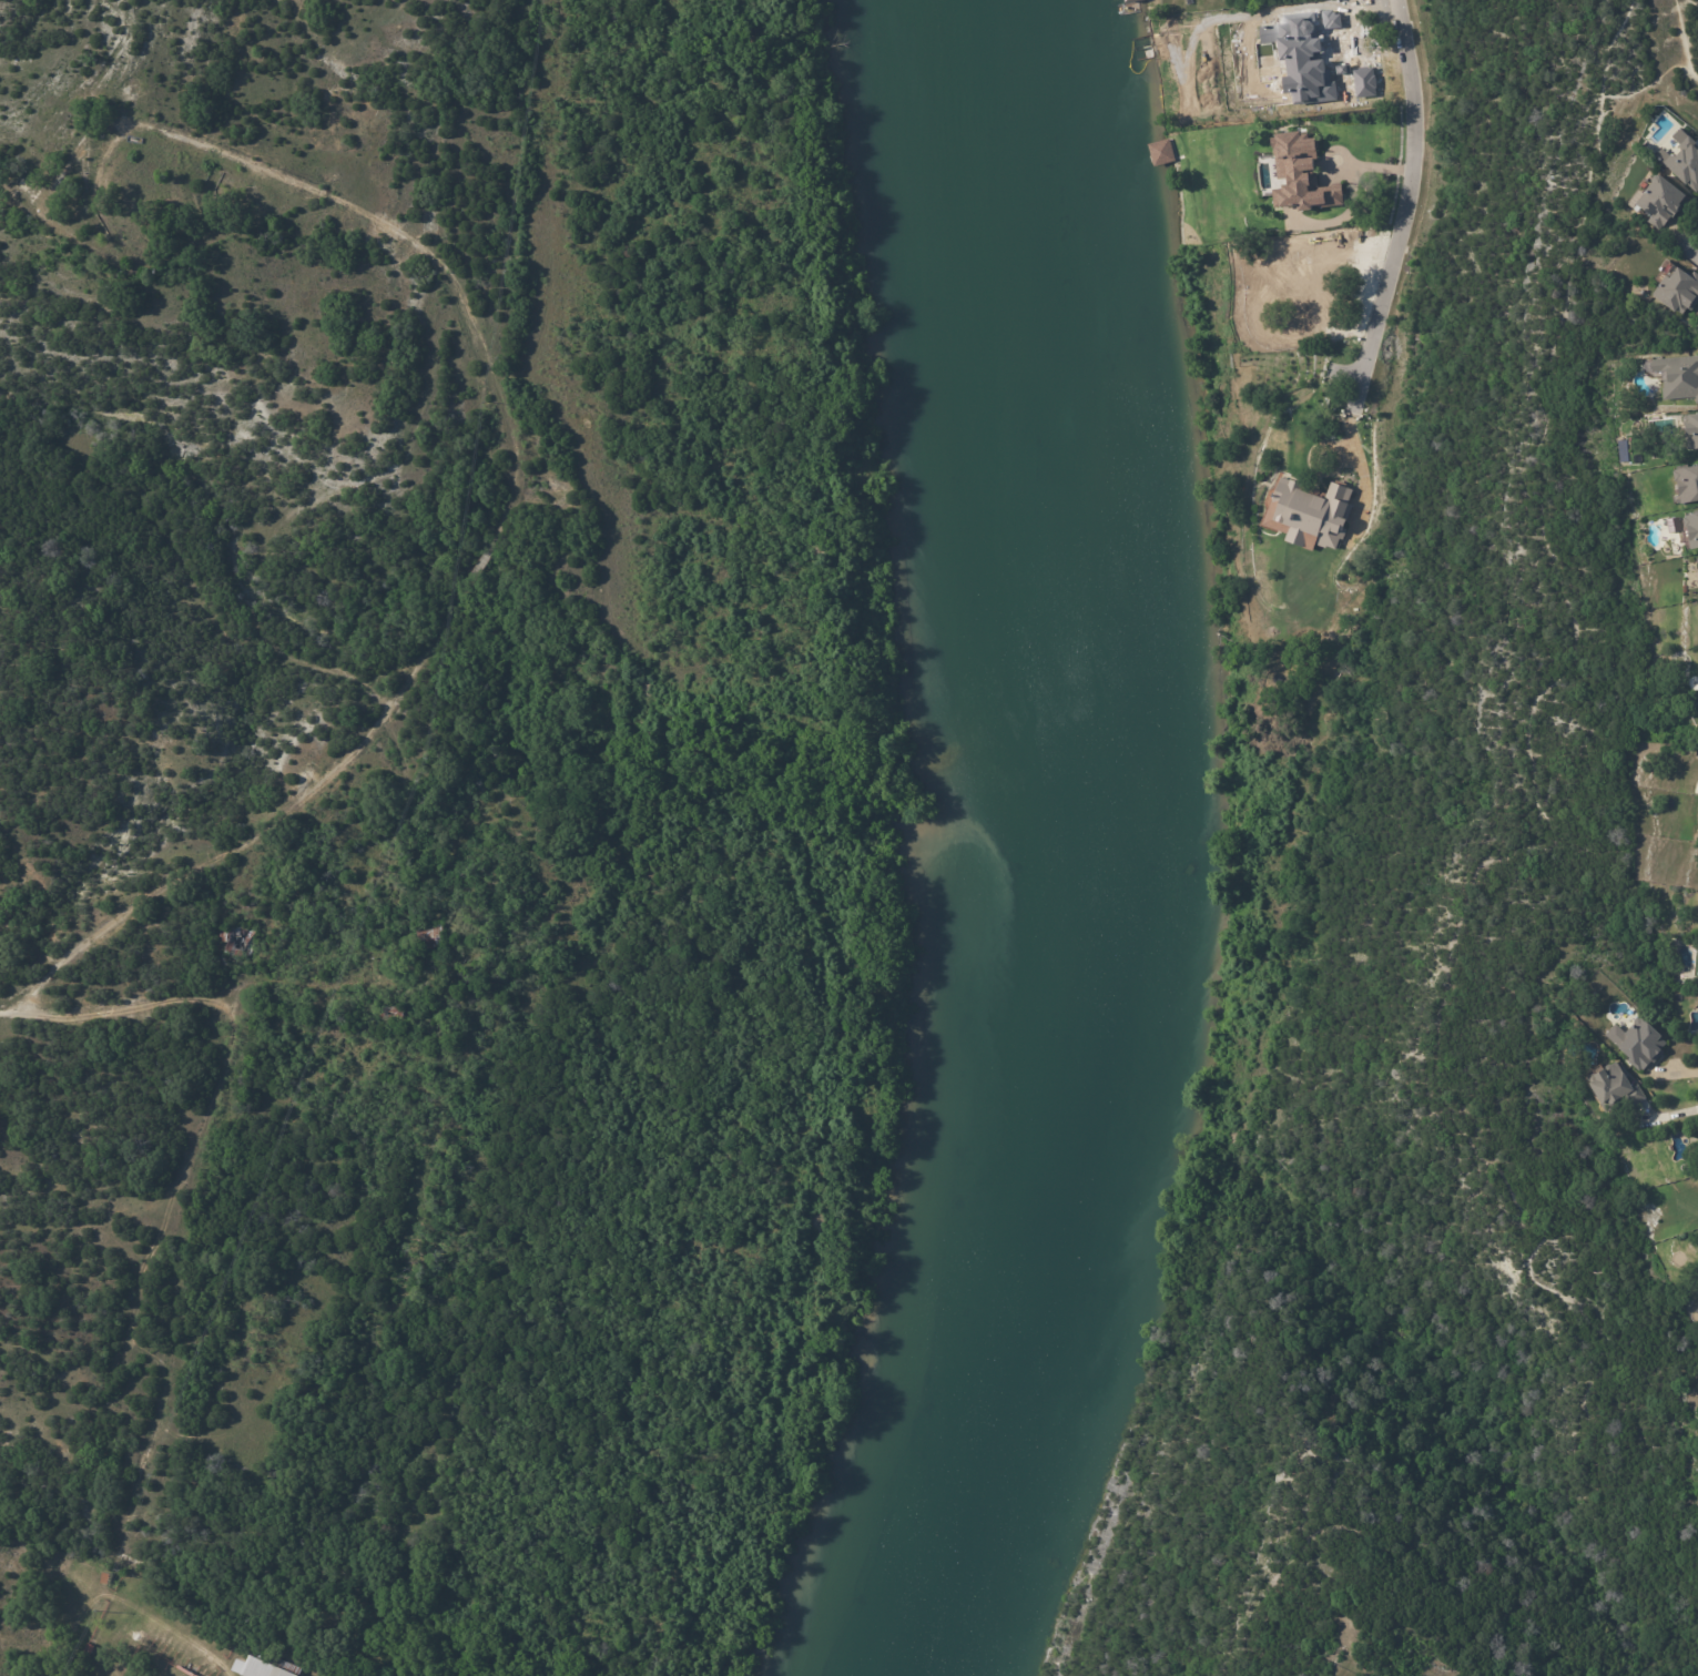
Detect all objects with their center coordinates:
building: (1128, 0)
building: (1160, 152)
building: (1680, 158)
building: (1300, 174)
building: (27, 192)
building: (1655, 196)
road: (1397, 217)
building: (128, 219)
road: (1691, 258)
building: (1675, 287)
building: (1676, 375)
building: (1689, 428)
building: (1686, 483)
road: (498, 514)
building: (1309, 514)
building: (1672, 525)
building: (1690, 529)
river: (1060, 849)
building: (431, 936)
building: (238, 939)
building: (1671, 946)
building: (430, 991)
road: (205, 1003)
building: (396, 1014)
building: (1640, 1044)
road: (1677, 1076)
building: (1611, 1087)
road: (1670, 1116)
building: (83, 1659)
building: (265, 1666)

